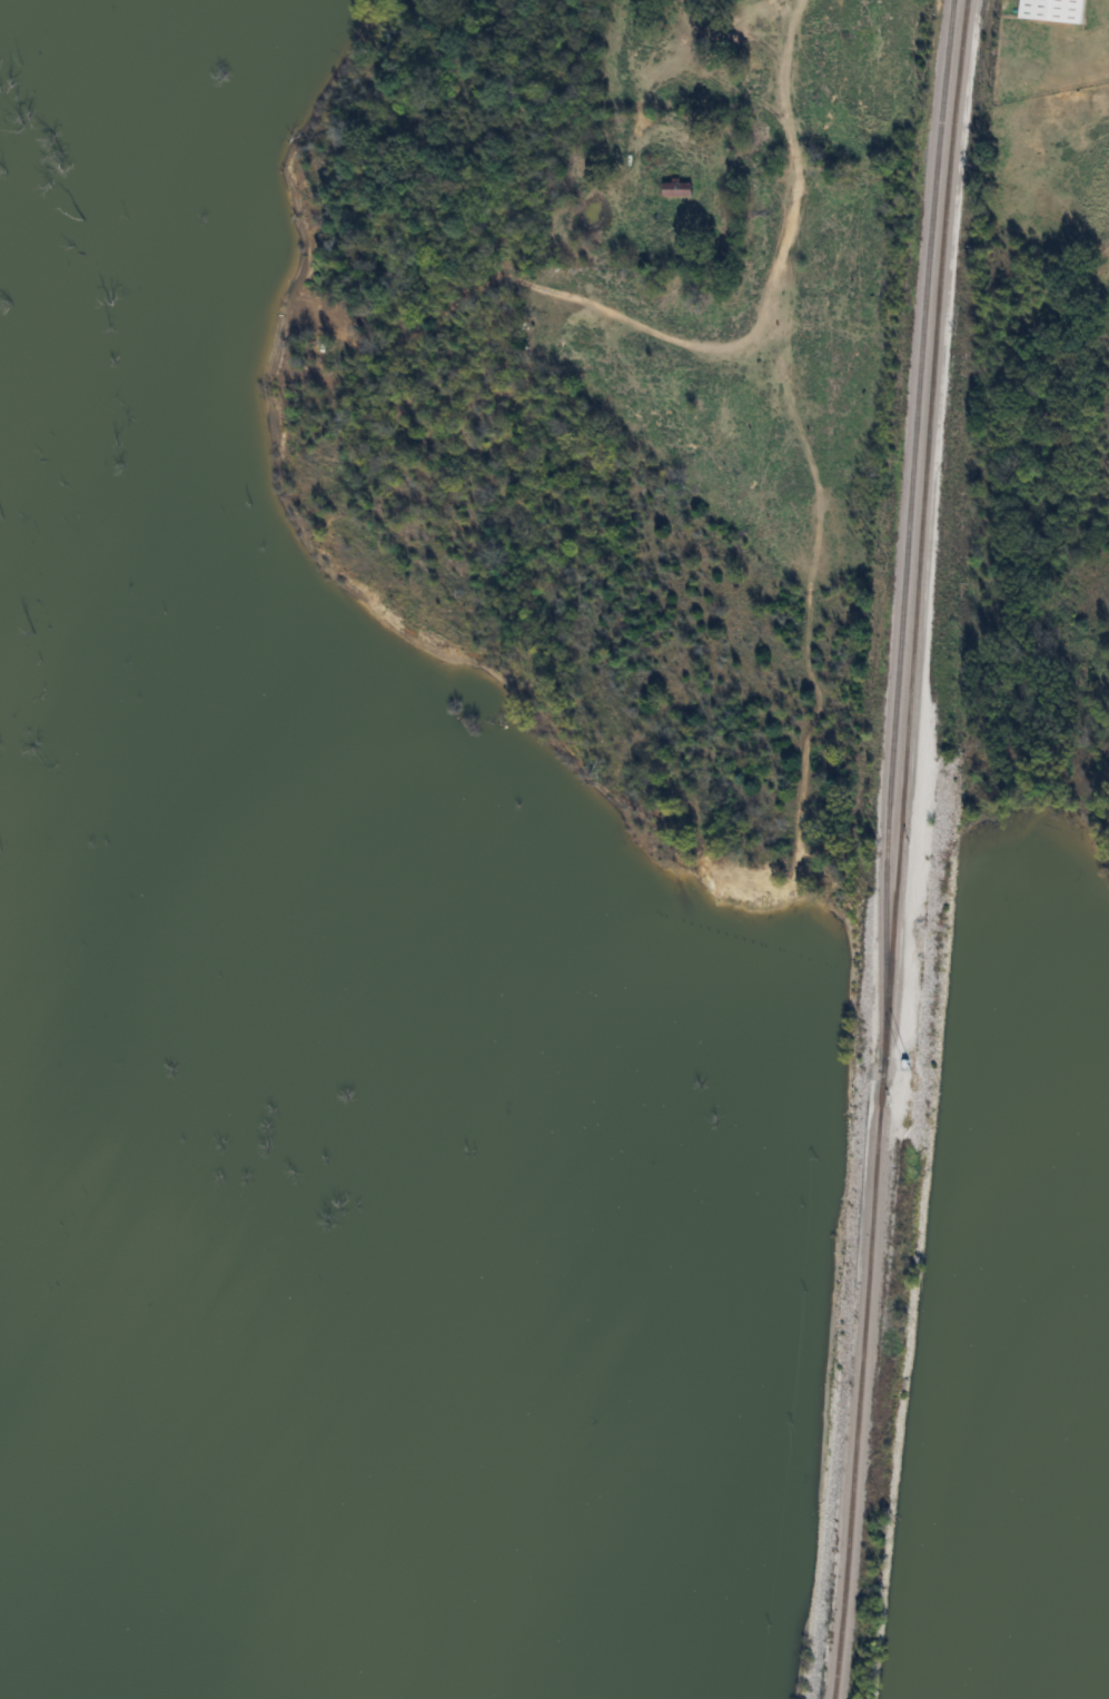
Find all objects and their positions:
building: (1053, 10)
building: (679, 188)
railway: (912, 850)

